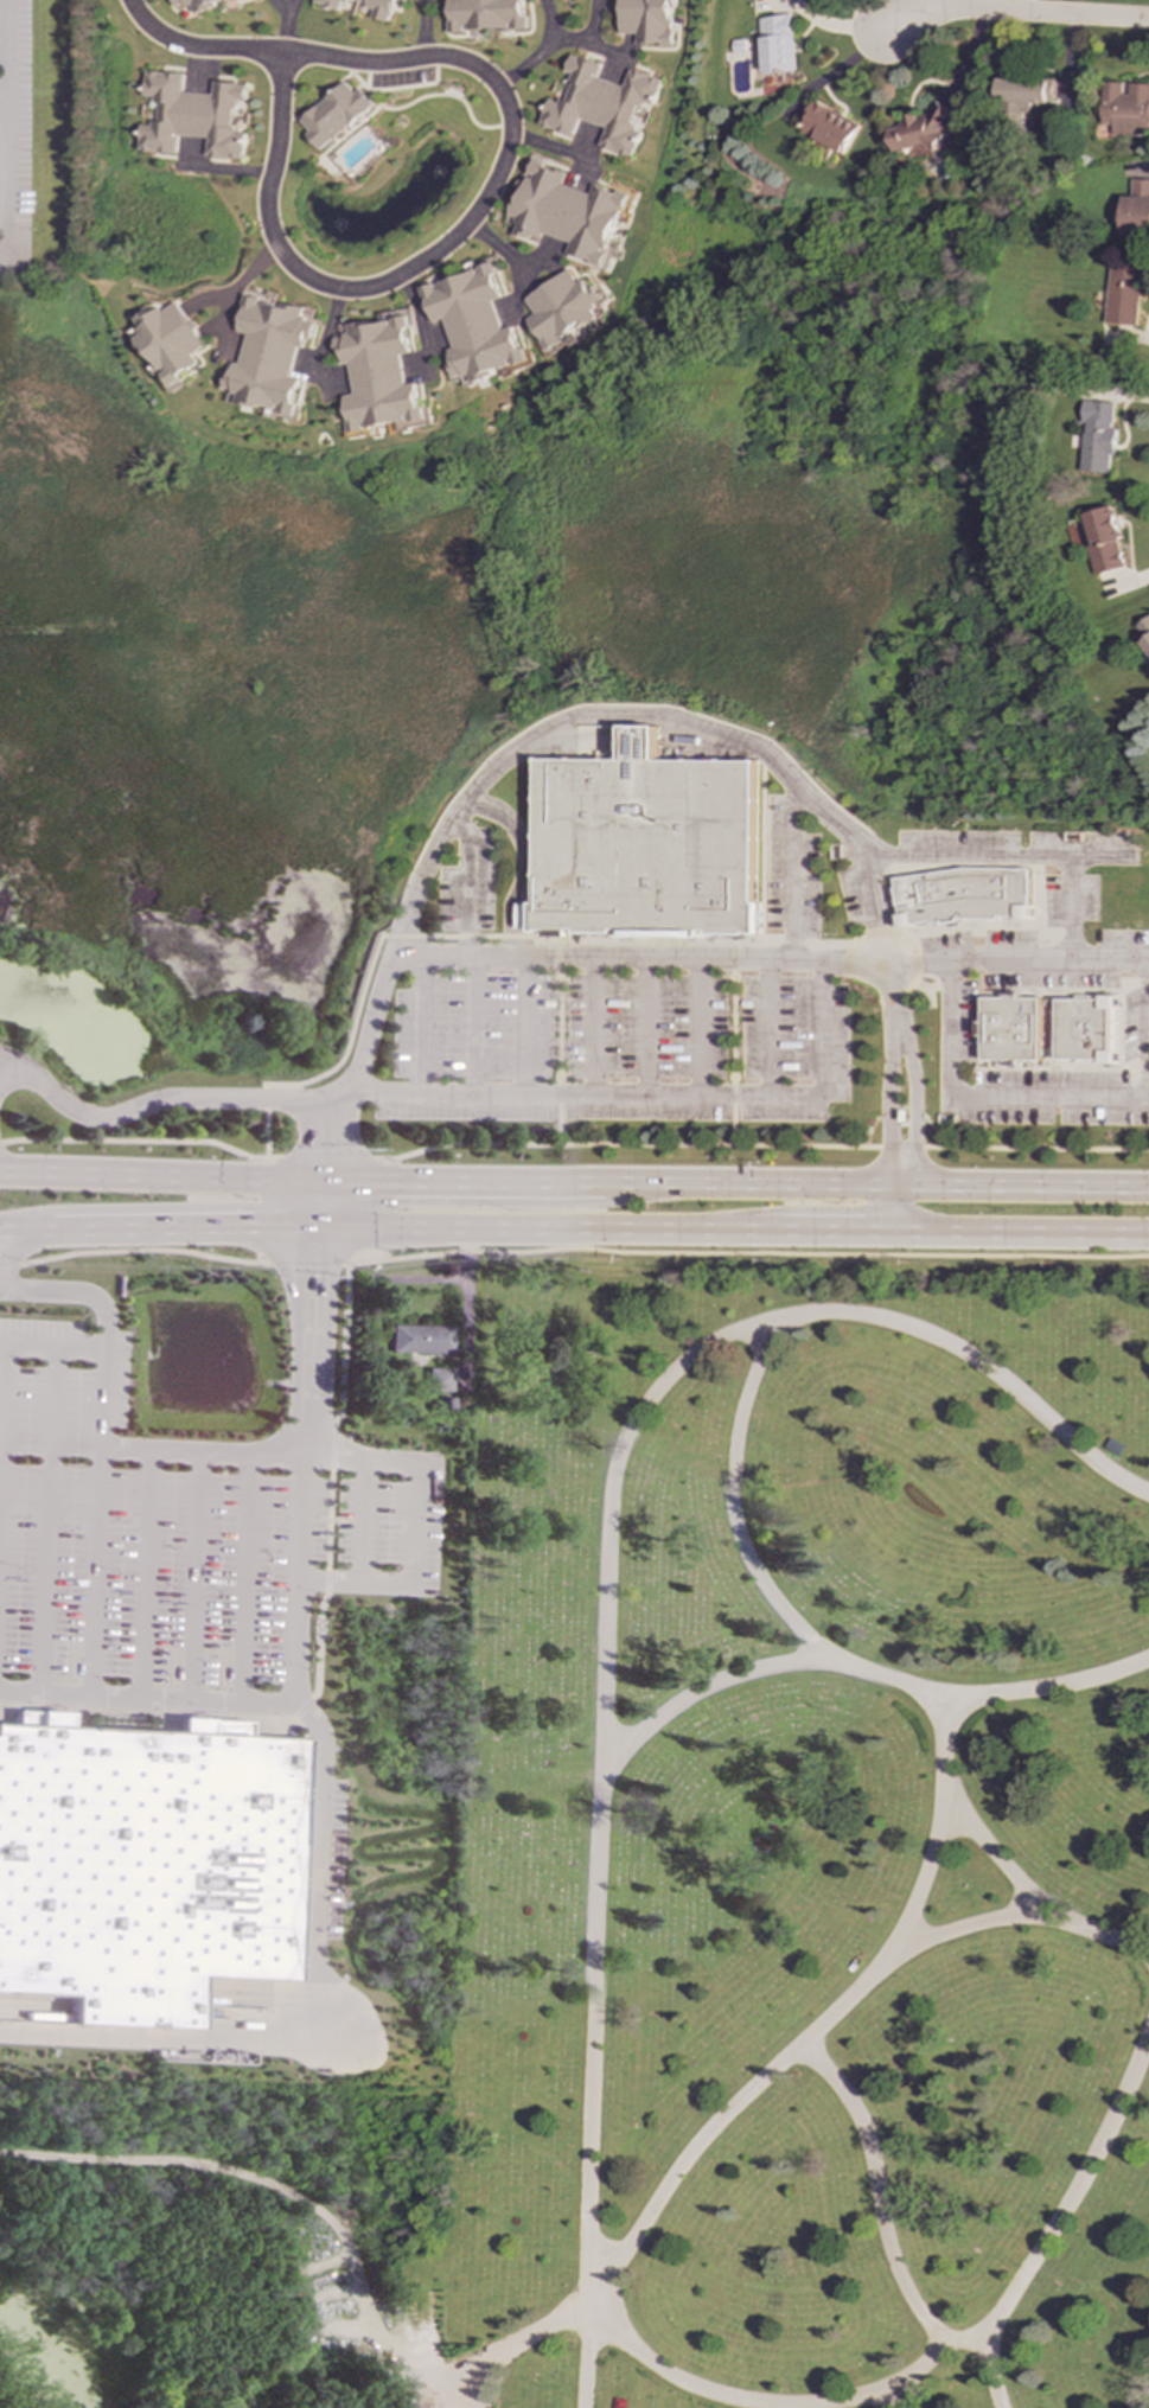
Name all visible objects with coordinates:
building: (198, 2)
building: (325, 5)
building: (372, 8)
road: (1010, 12)
building: (473, 15)
building: (636, 21)
building: (773, 45)
road: (574, 46)
road: (530, 49)
road: (282, 53)
building: (1024, 95)
building: (595, 106)
building: (1126, 108)
building: (328, 115)
building: (191, 116)
building: (829, 126)
road: (4, 130)
building: (924, 130)
building: (1137, 209)
building: (564, 211)
road: (497, 250)
road: (250, 276)
road: (370, 287)
building: (1126, 292)
building: (562, 309)
building: (474, 321)
road: (326, 330)
building: (171, 341)
building: (381, 373)
building: (1098, 435)
building: (1105, 539)
building: (1144, 630)
road: (510, 755)
building: (649, 845)
road: (1099, 856)
road: (1019, 857)
road: (526, 864)
road: (927, 867)
road: (792, 875)
road: (467, 888)
building: (968, 896)
road: (512, 911)
building: (529, 915)
road: (998, 925)
road: (905, 940)
road: (615, 941)
road: (558, 954)
road: (734, 956)
road: (637, 958)
road: (1015, 958)
road: (653, 965)
road: (689, 965)
road: (1142, 981)
road: (1128, 986)
road: (658, 989)
road: (754, 989)
road: (417, 1023)
road: (470, 1024)
road: (523, 1024)
road: (593, 1026)
road: (645, 1027)
road: (698, 1027)
road: (766, 1028)
building: (1011, 1029)
building: (1089, 1030)
road: (1049, 1031)
road: (347, 1036)
road: (557, 1056)
road: (733, 1056)
road: (979, 1068)
road: (1130, 1069)
road: (1141, 1077)
road: (655, 1094)
road: (982, 1101)
road: (266, 1120)
road: (324, 1137)
road: (140, 1139)
road: (760, 1145)
road: (326, 1157)
road: (108, 1173)
road: (269, 1176)
traffic signals: (323, 1177)
road: (460, 1177)
road: (743, 1181)
road: (1019, 1184)
road: (320, 1202)
road: (384, 1208)
road: (888, 1208)
road: (263, 1209)
road: (2, 1225)
road: (31, 1226)
road: (187, 1226)
traffic signals: (318, 1228)
road: (548, 1229)
road: (834, 1233)
road: (1019, 1234)
road: (141, 1250)
road: (748, 1253)
road: (7, 1256)
road: (305, 1262)
road: (11, 1264)
road: (76, 1290)
road: (464, 1303)
road: (314, 1318)
building: (421, 1337)
road: (52, 1343)
road: (344, 1344)
building: (439, 1378)
road: (2, 1404)
road: (309, 1430)
road: (334, 1446)
road: (205, 1448)
road: (47, 1519)
road: (332, 1519)
road: (365, 1519)
road: (334, 1520)
road: (96, 1521)
road: (419, 1522)
road: (300, 1567)
road: (147, 1572)
road: (196, 1573)
road: (247, 1576)
road: (328, 1580)
road: (849, 1656)
road: (728, 1690)
road: (1042, 1697)
road: (148, 1698)
road: (295, 1716)
road: (317, 1829)
road: (602, 1833)
building: (146, 1863)
park: (722, 1891)
road: (1028, 1895)
road: (976, 1928)
road: (184, 2039)
road: (330, 2215)
road: (882, 2215)
road: (1060, 2227)
road: (666, 2380)
road: (895, 2383)
road: (886, 2400)

